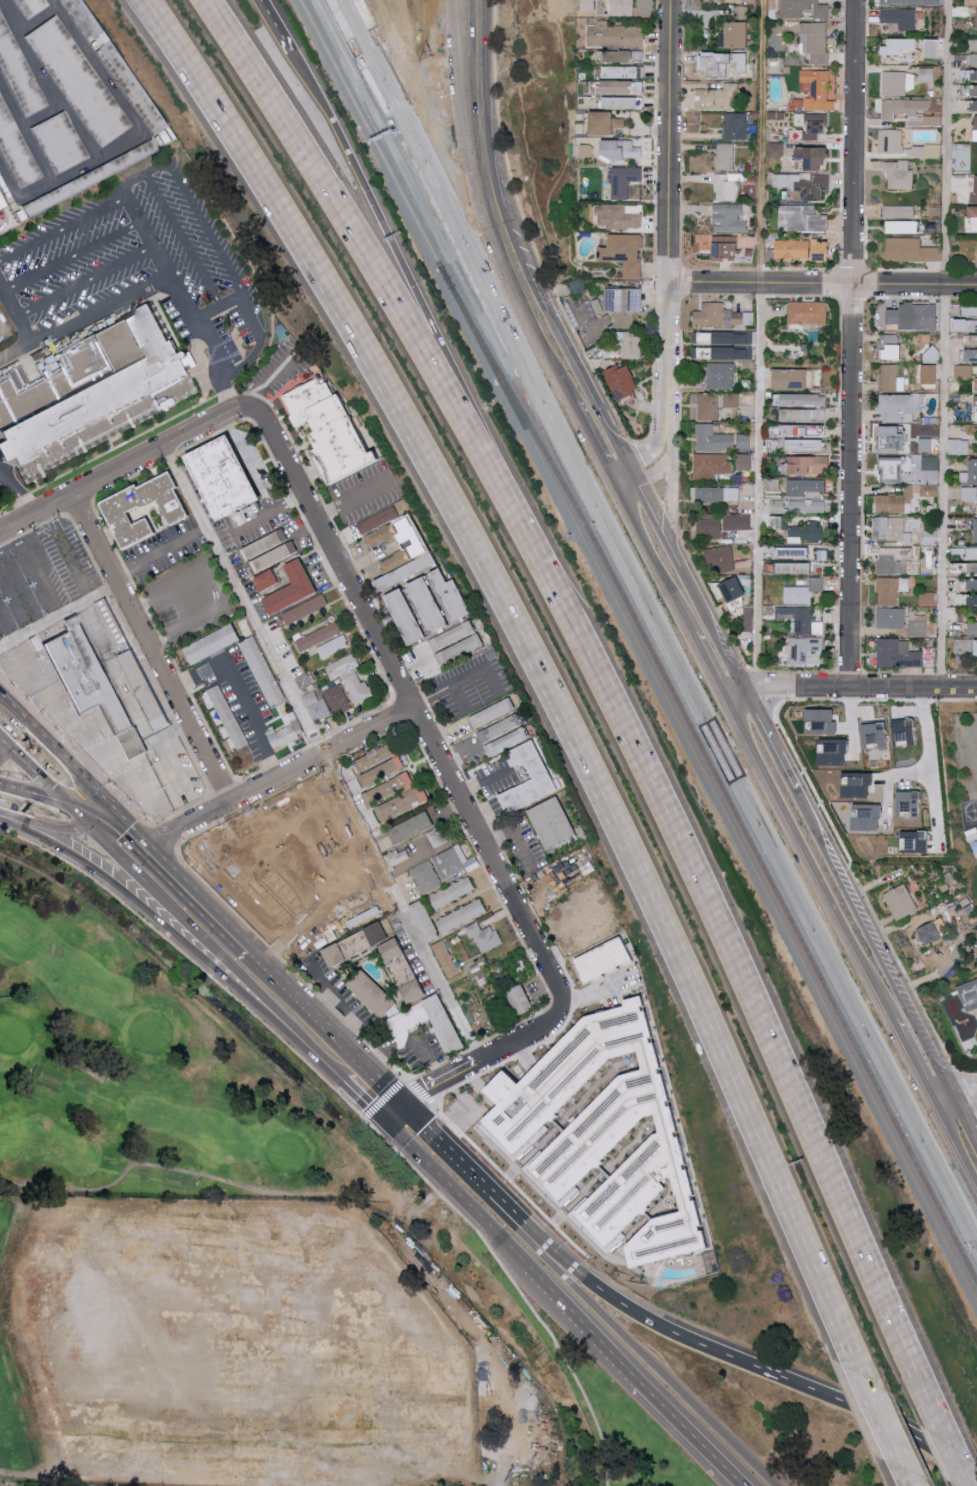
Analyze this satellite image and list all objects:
building: (912, 2)
building: (972, 2)
building: (587, 5)
road: (348, 7)
building: (619, 7)
building: (31, 8)
building: (805, 9)
parking lot: (424, 10)
building: (373, 12)
building: (740, 12)
building: (900, 17)
building: (84, 20)
building: (342, 24)
building: (614, 35)
building: (735, 35)
building: (815, 41)
building: (973, 44)
railway: (378, 45)
building: (900, 46)
road: (382, 47)
road: (446, 47)
building: (932, 48)
road: (363, 49)
railway: (357, 55)
building: (624, 55)
road: (473, 57)
building: (971, 59)
building: (731, 65)
road: (400, 67)
road: (419, 70)
building: (623, 71)
building: (926, 74)
building: (966, 74)
building: (975, 74)
building: (19, 76)
building: (406, 78)
building: (79, 84)
building: (622, 86)
building: (817, 89)
building: (972, 90)
building: (137, 96)
building: (718, 97)
building: (620, 102)
building: (972, 106)
road: (445, 111)
building: (911, 111)
traffic signals: (475, 114)
building: (605, 123)
building: (815, 125)
road: (427, 126)
building: (735, 126)
building: (975, 128)
road: (446, 132)
road: (446, 136)
road: (477, 139)
building: (891, 141)
building: (60, 146)
building: (622, 149)
building: (776, 149)
building: (587, 150)
building: (927, 151)
building: (16, 154)
building: (724, 156)
building: (813, 157)
road: (146, 174)
building: (899, 175)
building: (625, 180)
building: (89, 182)
building: (804, 185)
building: (726, 187)
building: (975, 189)
building: (1, 202)
road: (493, 210)
road: (371, 212)
road: (339, 213)
building: (974, 215)
building: (620, 216)
building: (729, 218)
building: (802, 219)
road: (670, 223)
road: (182, 240)
building: (726, 247)
road: (85, 249)
building: (792, 249)
building: (822, 250)
building: (910, 250)
building: (624, 253)
road: (157, 263)
railway: (457, 273)
road: (95, 278)
road: (152, 282)
road: (823, 282)
road: (238, 296)
building: (624, 305)
building: (591, 309)
building: (970, 309)
building: (808, 312)
building: (722, 316)
building: (915, 316)
road: (14, 318)
building: (972, 325)
building: (724, 338)
building: (970, 340)
road: (762, 343)
road: (854, 344)
road: (948, 344)
building: (889, 347)
road: (546, 352)
building: (722, 353)
building: (971, 355)
building: (963, 371)
building: (931, 374)
building: (721, 375)
road: (269, 377)
building: (890, 378)
building: (791, 379)
building: (622, 381)
road: (584, 386)
building: (90, 391)
building: (800, 400)
building: (715, 404)
building: (899, 407)
building: (803, 414)
building: (331, 429)
building: (803, 429)
road: (212, 436)
road: (627, 438)
building: (891, 438)
building: (713, 439)
building: (742, 440)
road: (127, 442)
road: (592, 443)
building: (806, 445)
building: (925, 445)
building: (958, 446)
road: (169, 457)
building: (930, 462)
road: (137, 464)
road: (250, 464)
road: (652, 464)
building: (711, 465)
building: (808, 465)
building: (890, 469)
building: (973, 470)
building: (228, 478)
road: (125, 479)
road: (623, 479)
building: (804, 487)
building: (930, 490)
road: (20, 492)
building: (715, 493)
building: (969, 493)
road: (669, 495)
road: (352, 499)
building: (896, 499)
road: (289, 501)
building: (806, 506)
road: (79, 507)
building: (124, 507)
road: (649, 508)
road: (68, 515)
building: (378, 519)
road: (253, 521)
building: (738, 522)
building: (710, 528)
building: (890, 528)
road: (305, 529)
road: (1, 530)
building: (799, 530)
building: (976, 530)
building: (382, 535)
building: (931, 536)
building: (271, 550)
road: (160, 551)
road: (350, 553)
building: (971, 553)
road: (672, 555)
road: (323, 557)
building: (721, 558)
road: (652, 559)
building: (891, 560)
building: (395, 561)
road: (74, 566)
building: (794, 568)
building: (973, 568)
road: (36, 569)
building: (267, 580)
building: (972, 584)
building: (293, 587)
building: (451, 589)
building: (732, 589)
building: (891, 589)
road: (108, 590)
building: (803, 591)
road: (172, 592)
road: (16, 594)
building: (972, 599)
road: (697, 603)
building: (430, 605)
building: (304, 610)
road: (59, 614)
building: (408, 617)
building: (891, 618)
building: (799, 619)
railway: (658, 621)
building: (113, 622)
road: (189, 625)
building: (918, 627)
building: (972, 628)
railway: (653, 631)
building: (318, 637)
road: (163, 641)
building: (213, 644)
building: (963, 645)
building: (332, 648)
road: (153, 649)
building: (461, 649)
building: (976, 649)
railway: (640, 651)
building: (806, 651)
building: (897, 653)
road: (534, 661)
road: (730, 666)
building: (341, 667)
road: (709, 668)
building: (304, 681)
building: (94, 682)
building: (145, 686)
building: (358, 687)
road: (859, 689)
road: (240, 692)
road: (161, 696)
road: (735, 698)
building: (337, 699)
road: (130, 700)
building: (316, 706)
road: (51, 712)
road: (413, 712)
building: (493, 712)
road: (399, 713)
road: (358, 718)
building: (822, 720)
road: (419, 721)
road: (410, 730)
building: (906, 731)
building: (503, 734)
building: (876, 734)
building: (283, 736)
road: (2, 742)
road: (316, 742)
road: (370, 743)
road: (769, 743)
road: (2, 749)
road: (104, 749)
building: (834, 751)
road: (323, 754)
road: (458, 754)
building: (377, 756)
road: (63, 762)
road: (930, 762)
road: (274, 764)
road: (327, 764)
building: (384, 770)
building: (540, 772)
road: (98, 777)
road: (279, 777)
road: (484, 785)
road: (49, 786)
building: (856, 786)
road: (223, 787)
building: (389, 789)
road: (64, 798)
building: (403, 802)
building: (910, 802)
road: (246, 809)
building: (868, 816)
road: (14, 822)
building: (553, 822)
road: (77, 827)
traffic signals: (95, 827)
building: (412, 827)
road: (137, 835)
building: (437, 836)
road: (163, 839)
building: (916, 840)
traffic signals: (148, 847)
building: (397, 856)
building: (454, 862)
road: (808, 863)
road: (481, 864)
building: (295, 865)
road: (330, 869)
building: (253, 873)
building: (368, 876)
building: (426, 876)
road: (143, 879)
building: (452, 892)
road: (196, 898)
building: (901, 901)
building: (462, 915)
railway: (787, 916)
road: (712, 917)
building: (425, 919)
building: (379, 931)
building: (928, 933)
road: (544, 934)
building: (484, 936)
road: (186, 943)
road: (874, 944)
building: (350, 947)
building: (446, 958)
road: (289, 966)
building: (405, 969)
road: (598, 986)
road: (330, 989)
building: (373, 992)
building: (970, 995)
road: (266, 998)
building: (521, 998)
road: (300, 1000)
road: (353, 1016)
road: (549, 1022)
road: (519, 1023)
building: (400, 1025)
building: (966, 1029)
park: (151, 1033)
park: (14, 1034)
road: (508, 1045)
road: (474, 1047)
road: (297, 1055)
road: (429, 1058)
road: (914, 1064)
road: (364, 1066)
road: (437, 1066)
road: (383, 1086)
road: (415, 1087)
road: (354, 1090)
road: (964, 1091)
road: (420, 1093)
road: (944, 1101)
road: (382, 1102)
road: (965, 1119)
building: (612, 1132)
road: (438, 1147)
road: (956, 1147)
park: (286, 1153)
road: (437, 1173)
road: (504, 1176)
park: (226, 1245)
park: (226, 1245)
road: (557, 1296)
road: (625, 1304)
road: (630, 1341)
road: (588, 1406)
road: (677, 1421)
road: (664, 1423)
road: (883, 1424)
road: (884, 1425)
road: (951, 1450)

